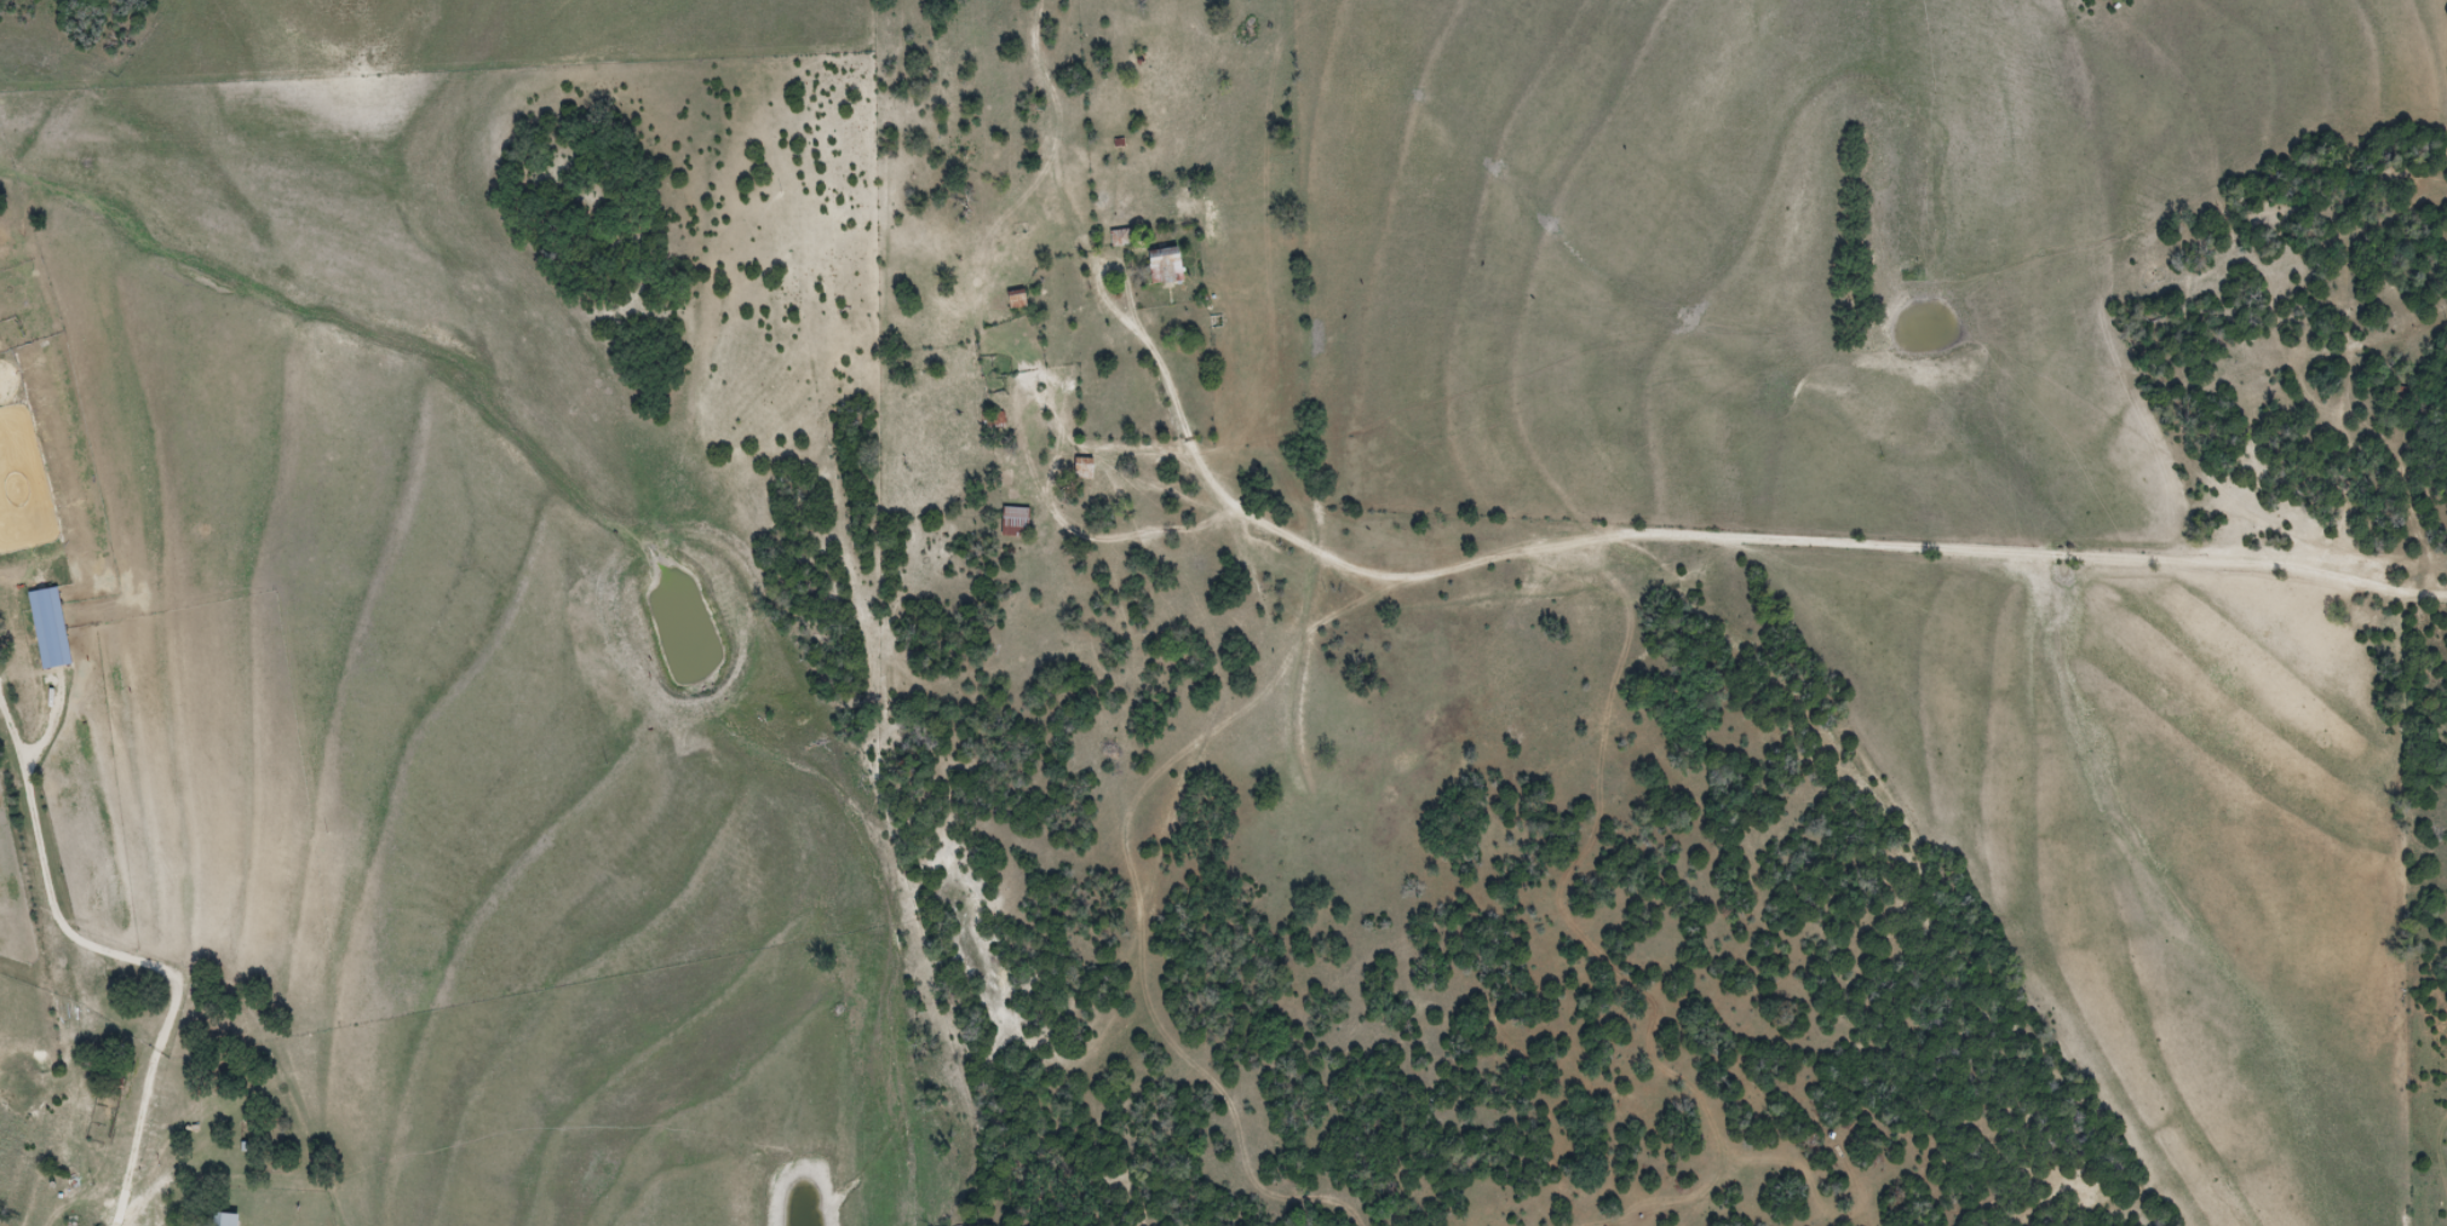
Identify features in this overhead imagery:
road: (1013, 214)
building: (1120, 238)
building: (1165, 265)
road: (2360, 367)
building: (1084, 468)
building: (1016, 522)
road: (1759, 539)
road: (1024, 796)
road: (52, 906)
road: (136, 1139)
building: (219, 1220)
road: (111, 1225)

